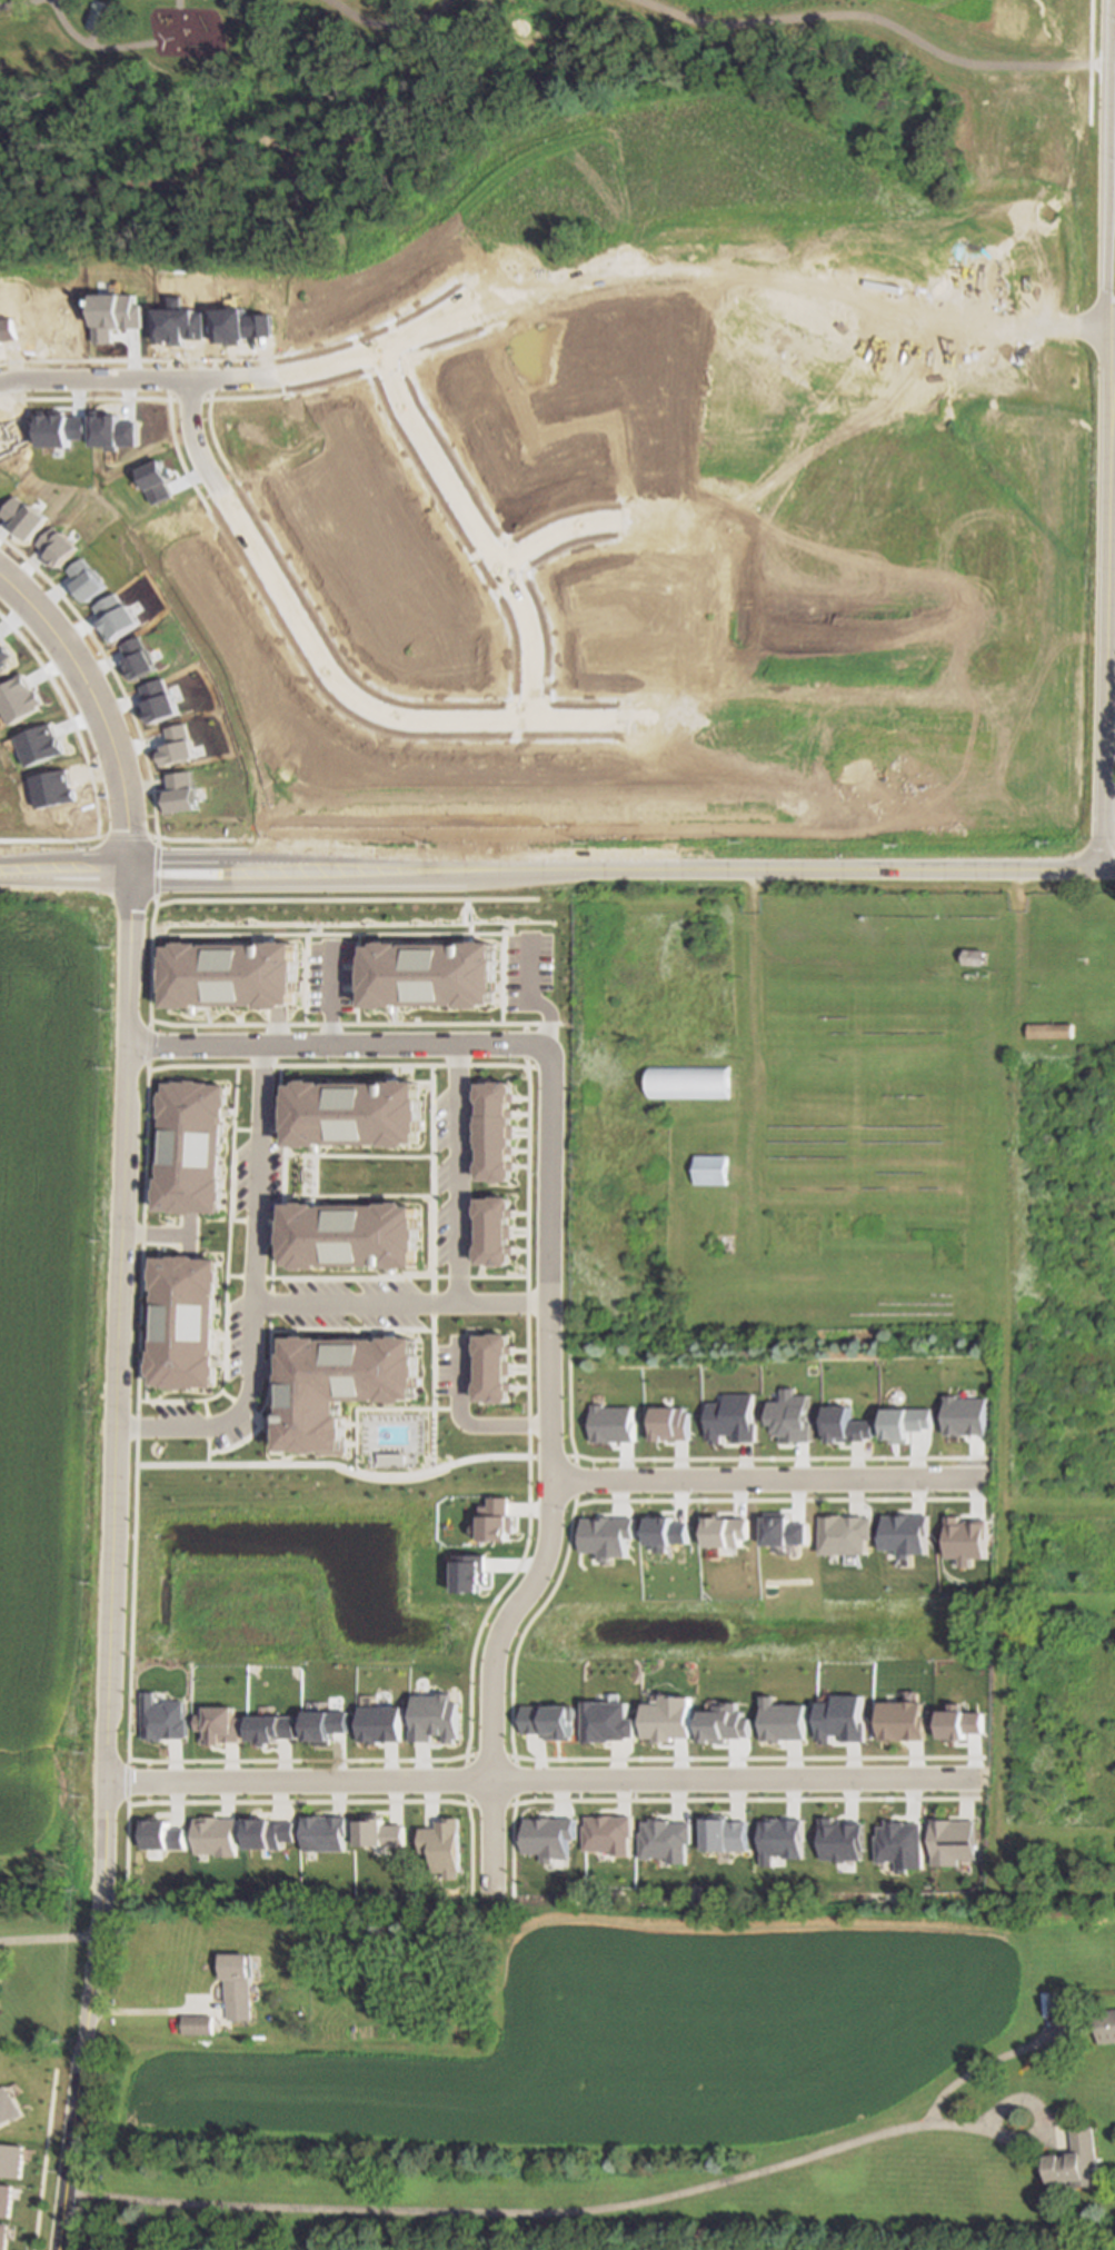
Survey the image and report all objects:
road: (13, 3)
road: (179, 6)
building: (98, 18)
road: (389, 20)
road: (874, 21)
road: (97, 39)
road: (89, 44)
park: (500, 90)
road: (1089, 143)
road: (670, 201)
road: (671, 270)
road: (1099, 288)
road: (1104, 288)
building: (115, 315)
building: (179, 325)
building: (240, 325)
road: (1000, 327)
road: (235, 380)
building: (58, 428)
building: (110, 430)
building: (157, 480)
building: (22, 517)
road: (588, 524)
road: (475, 530)
building: (54, 546)
road: (1112, 562)
building: (84, 579)
building: (115, 616)
building: (3, 656)
building: (136, 657)
road: (323, 665)
building: (18, 699)
building: (156, 700)
road: (97, 709)
road: (1106, 720)
building: (39, 745)
building: (175, 745)
building: (51, 788)
building: (179, 792)
road: (992, 867)
road: (434, 870)
building: (973, 955)
building: (364, 963)
building: (428, 972)
building: (230, 974)
building: (1046, 977)
building: (1051, 1028)
road: (337, 1044)
building: (688, 1081)
building: (352, 1108)
building: (495, 1128)
building: (191, 1145)
road: (549, 1167)
building: (710, 1167)
road: (456, 1174)
building: (494, 1228)
building: (350, 1231)
building: (859, 1260)
road: (253, 1290)
road: (402, 1304)
building: (183, 1320)
building: (492, 1365)
parking lot: (455, 1366)
road: (119, 1374)
building: (340, 1381)
building: (963, 1415)
building: (787, 1416)
building: (728, 1418)
building: (902, 1422)
building: (608, 1423)
building: (666, 1423)
building: (842, 1425)
road: (768, 1479)
building: (238, 1484)
building: (494, 1520)
building: (782, 1530)
building: (664, 1531)
building: (724, 1531)
building: (842, 1534)
building: (904, 1534)
building: (604, 1536)
building: (965, 1539)
building: (466, 1573)
road: (519, 1589)
building: (432, 1718)
building: (160, 1719)
building: (664, 1719)
building: (837, 1719)
building: (547, 1720)
building: (778, 1720)
building: (898, 1720)
building: (604, 1721)
building: (956, 1722)
building: (721, 1723)
building: (378, 1724)
building: (216, 1725)
building: (321, 1725)
building: (270, 1728)
road: (539, 1778)
building: (377, 1831)
building: (266, 1832)
building: (321, 1832)
building: (605, 1833)
building: (721, 1833)
building: (158, 1835)
building: (545, 1835)
building: (212, 1836)
building: (837, 1839)
building: (663, 1840)
building: (777, 1840)
building: (949, 1841)
building: (895, 1844)
building: (440, 1846)
road: (47, 1939)
building: (236, 1984)
road: (148, 2011)
building: (196, 2022)
building: (1105, 2024)
road: (81, 2063)
building: (1076, 2159)
road: (600, 2209)

